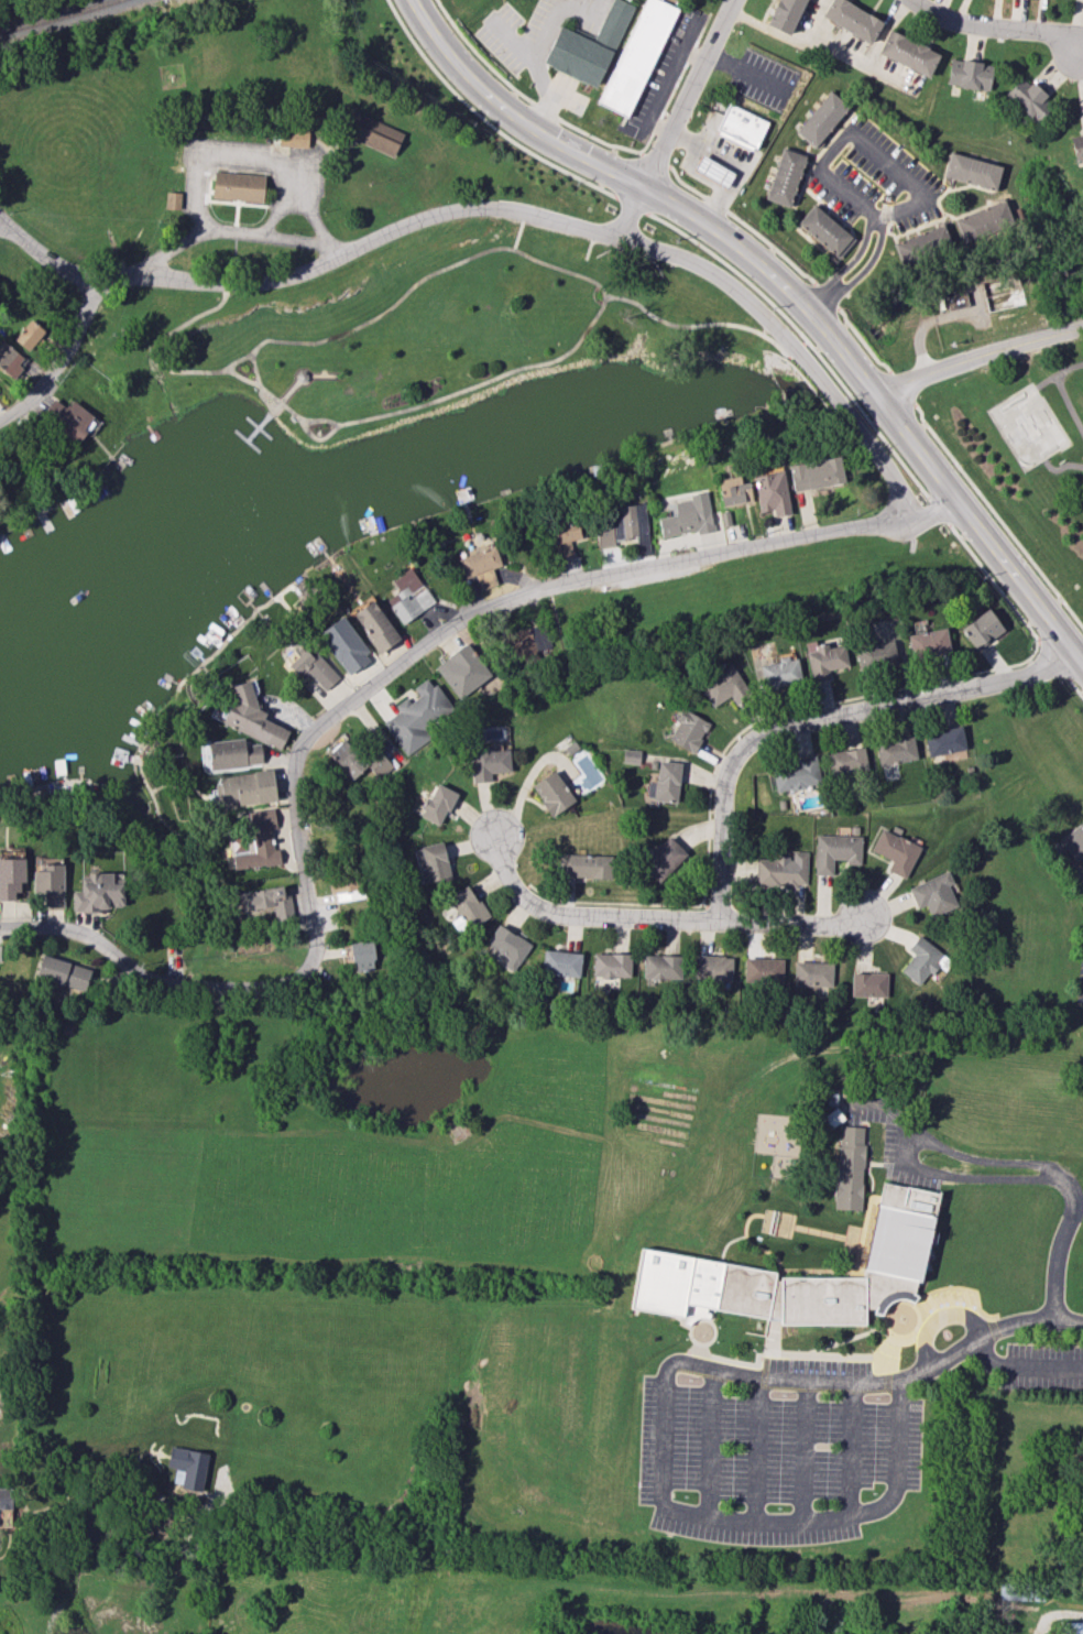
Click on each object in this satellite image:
railway: (51, 14)
building: (785, 14)
building: (852, 19)
road: (997, 26)
road: (885, 29)
building: (588, 45)
building: (908, 53)
road: (693, 55)
building: (636, 56)
road: (862, 58)
road: (536, 65)
road: (748, 69)
building: (969, 74)
road: (670, 75)
road: (688, 91)
road: (526, 97)
building: (1028, 99)
building: (822, 118)
road: (660, 123)
building: (741, 127)
building: (373, 133)
building: (293, 137)
road: (861, 139)
road: (341, 144)
building: (1077, 145)
park: (294, 148)
road: (217, 153)
road: (656, 159)
road: (735, 161)
building: (712, 171)
building: (972, 171)
road: (693, 173)
building: (785, 176)
road: (266, 181)
road: (685, 183)
building: (238, 186)
building: (173, 199)
road: (234, 201)
road: (716, 204)
road: (468, 208)
road: (630, 210)
road: (277, 213)
building: (983, 221)
road: (2, 224)
building: (825, 231)
road: (521, 235)
road: (269, 238)
building: (922, 244)
road: (772, 246)
road: (44, 257)
road: (847, 264)
river: (962, 271)
road: (861, 272)
road: (594, 283)
road: (785, 285)
road: (827, 295)
park: (422, 324)
road: (686, 327)
building: (29, 334)
road: (803, 340)
road: (862, 341)
road: (978, 352)
river: (849, 353)
building: (11, 359)
road: (62, 359)
road: (234, 362)
road: (1069, 369)
road: (174, 371)
road: (819, 382)
road: (298, 383)
road: (901, 385)
road: (1063, 395)
building: (68, 418)
park: (1027, 427)
road: (259, 428)
road: (259, 428)
road: (319, 439)
road: (247, 440)
road: (878, 456)
park: (1021, 458)
road: (1061, 470)
building: (816, 473)
building: (734, 491)
building: (772, 492)
road: (938, 513)
road: (996, 514)
building: (688, 516)
building: (622, 524)
building: (564, 536)
building: (479, 560)
building: (408, 598)
road: (1018, 614)
road: (468, 617)
building: (375, 625)
building: (981, 629)
building: (928, 643)
building: (525, 644)
building: (344, 645)
road: (1049, 650)
building: (875, 654)
building: (823, 658)
building: (310, 667)
building: (462, 671)
building: (779, 673)
road: (1075, 678)
building: (721, 685)
building: (416, 716)
road: (819, 717)
building: (252, 719)
building: (688, 730)
building: (944, 741)
building: (896, 750)
building: (233, 753)
building: (630, 755)
building: (357, 761)
building: (846, 761)
building: (488, 762)
building: (797, 774)
building: (666, 781)
building: (247, 787)
building: (553, 793)
building: (437, 804)
building: (259, 840)
building: (1074, 842)
building: (834, 851)
building: (896, 851)
building: (663, 858)
building: (435, 861)
building: (583, 865)
building: (781, 870)
building: (11, 878)
building: (48, 881)
building: (346, 885)
building: (98, 892)
building: (933, 894)
building: (259, 897)
building: (466, 908)
road: (582, 914)
road: (788, 922)
building: (508, 946)
road: (112, 951)
building: (362, 955)
building: (922, 960)
building: (561, 962)
building: (611, 966)
building: (661, 967)
building: (712, 968)
building: (763, 970)
building: (63, 972)
building: (812, 973)
building: (868, 984)
road: (230, 988)
parking lot: (1081, 1004)
road: (1033, 1163)
building: (849, 1167)
road: (955, 1175)
crop: (304, 1229)
building: (671, 1265)
road: (938, 1318)
road: (986, 1338)
parking lot: (1043, 1369)
road: (1024, 1370)
road: (710, 1445)
road: (853, 1450)
road: (756, 1453)
road: (805, 1453)
parking lot: (773, 1455)
building: (187, 1467)
building: (6, 1497)
road: (665, 1497)
building: (1022, 1591)
dam: (54, 1617)
building: (1071, 1627)

